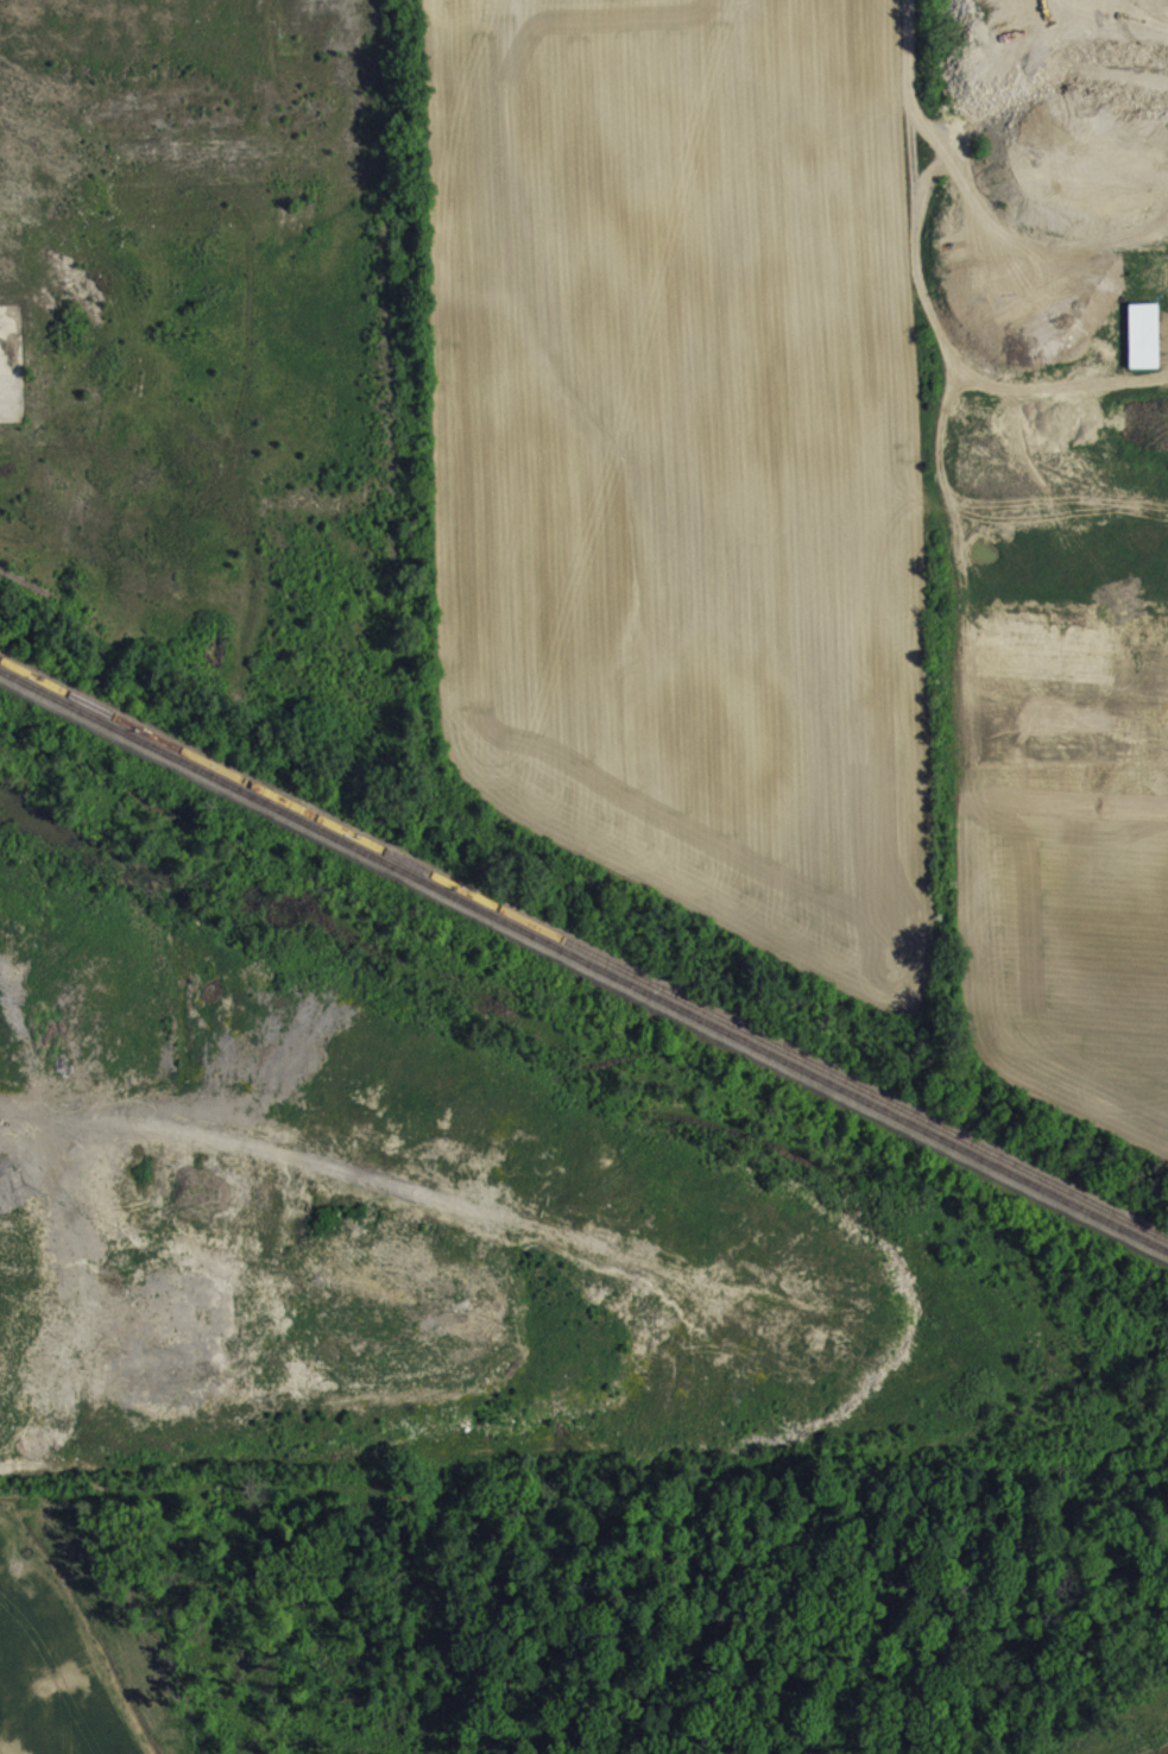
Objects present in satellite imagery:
building: (1145, 347)
railway: (29, 583)
railway: (583, 947)
railway: (583, 958)

